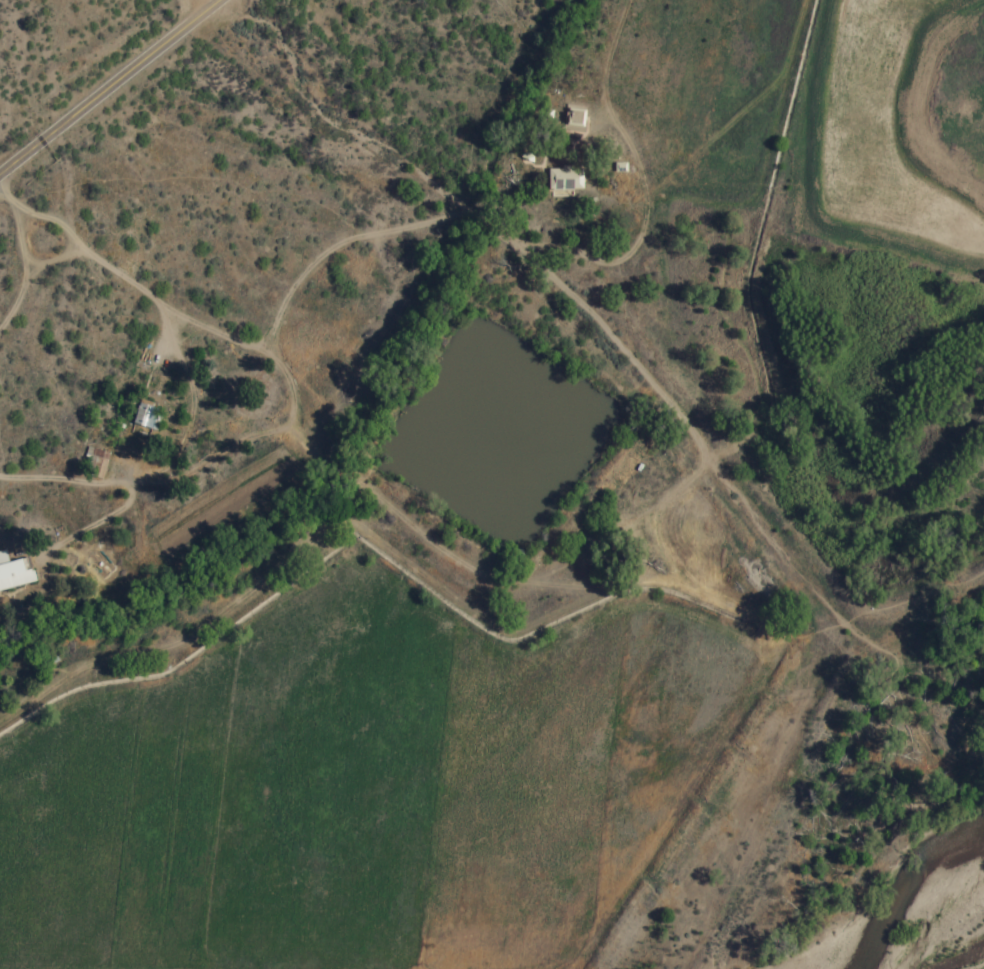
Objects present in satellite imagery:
road: (108, 88)
building: (145, 418)
building: (13, 574)
river: (905, 907)

